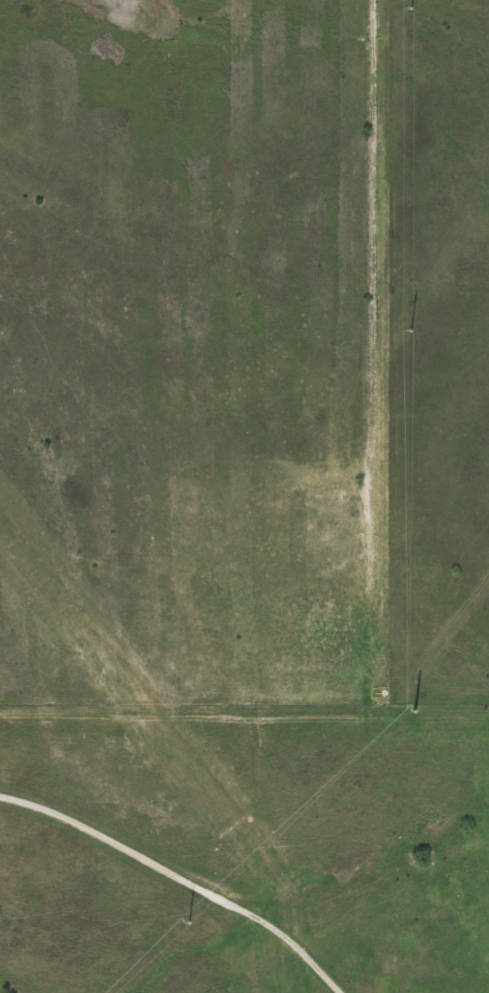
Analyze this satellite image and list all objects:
road: (180, 875)

